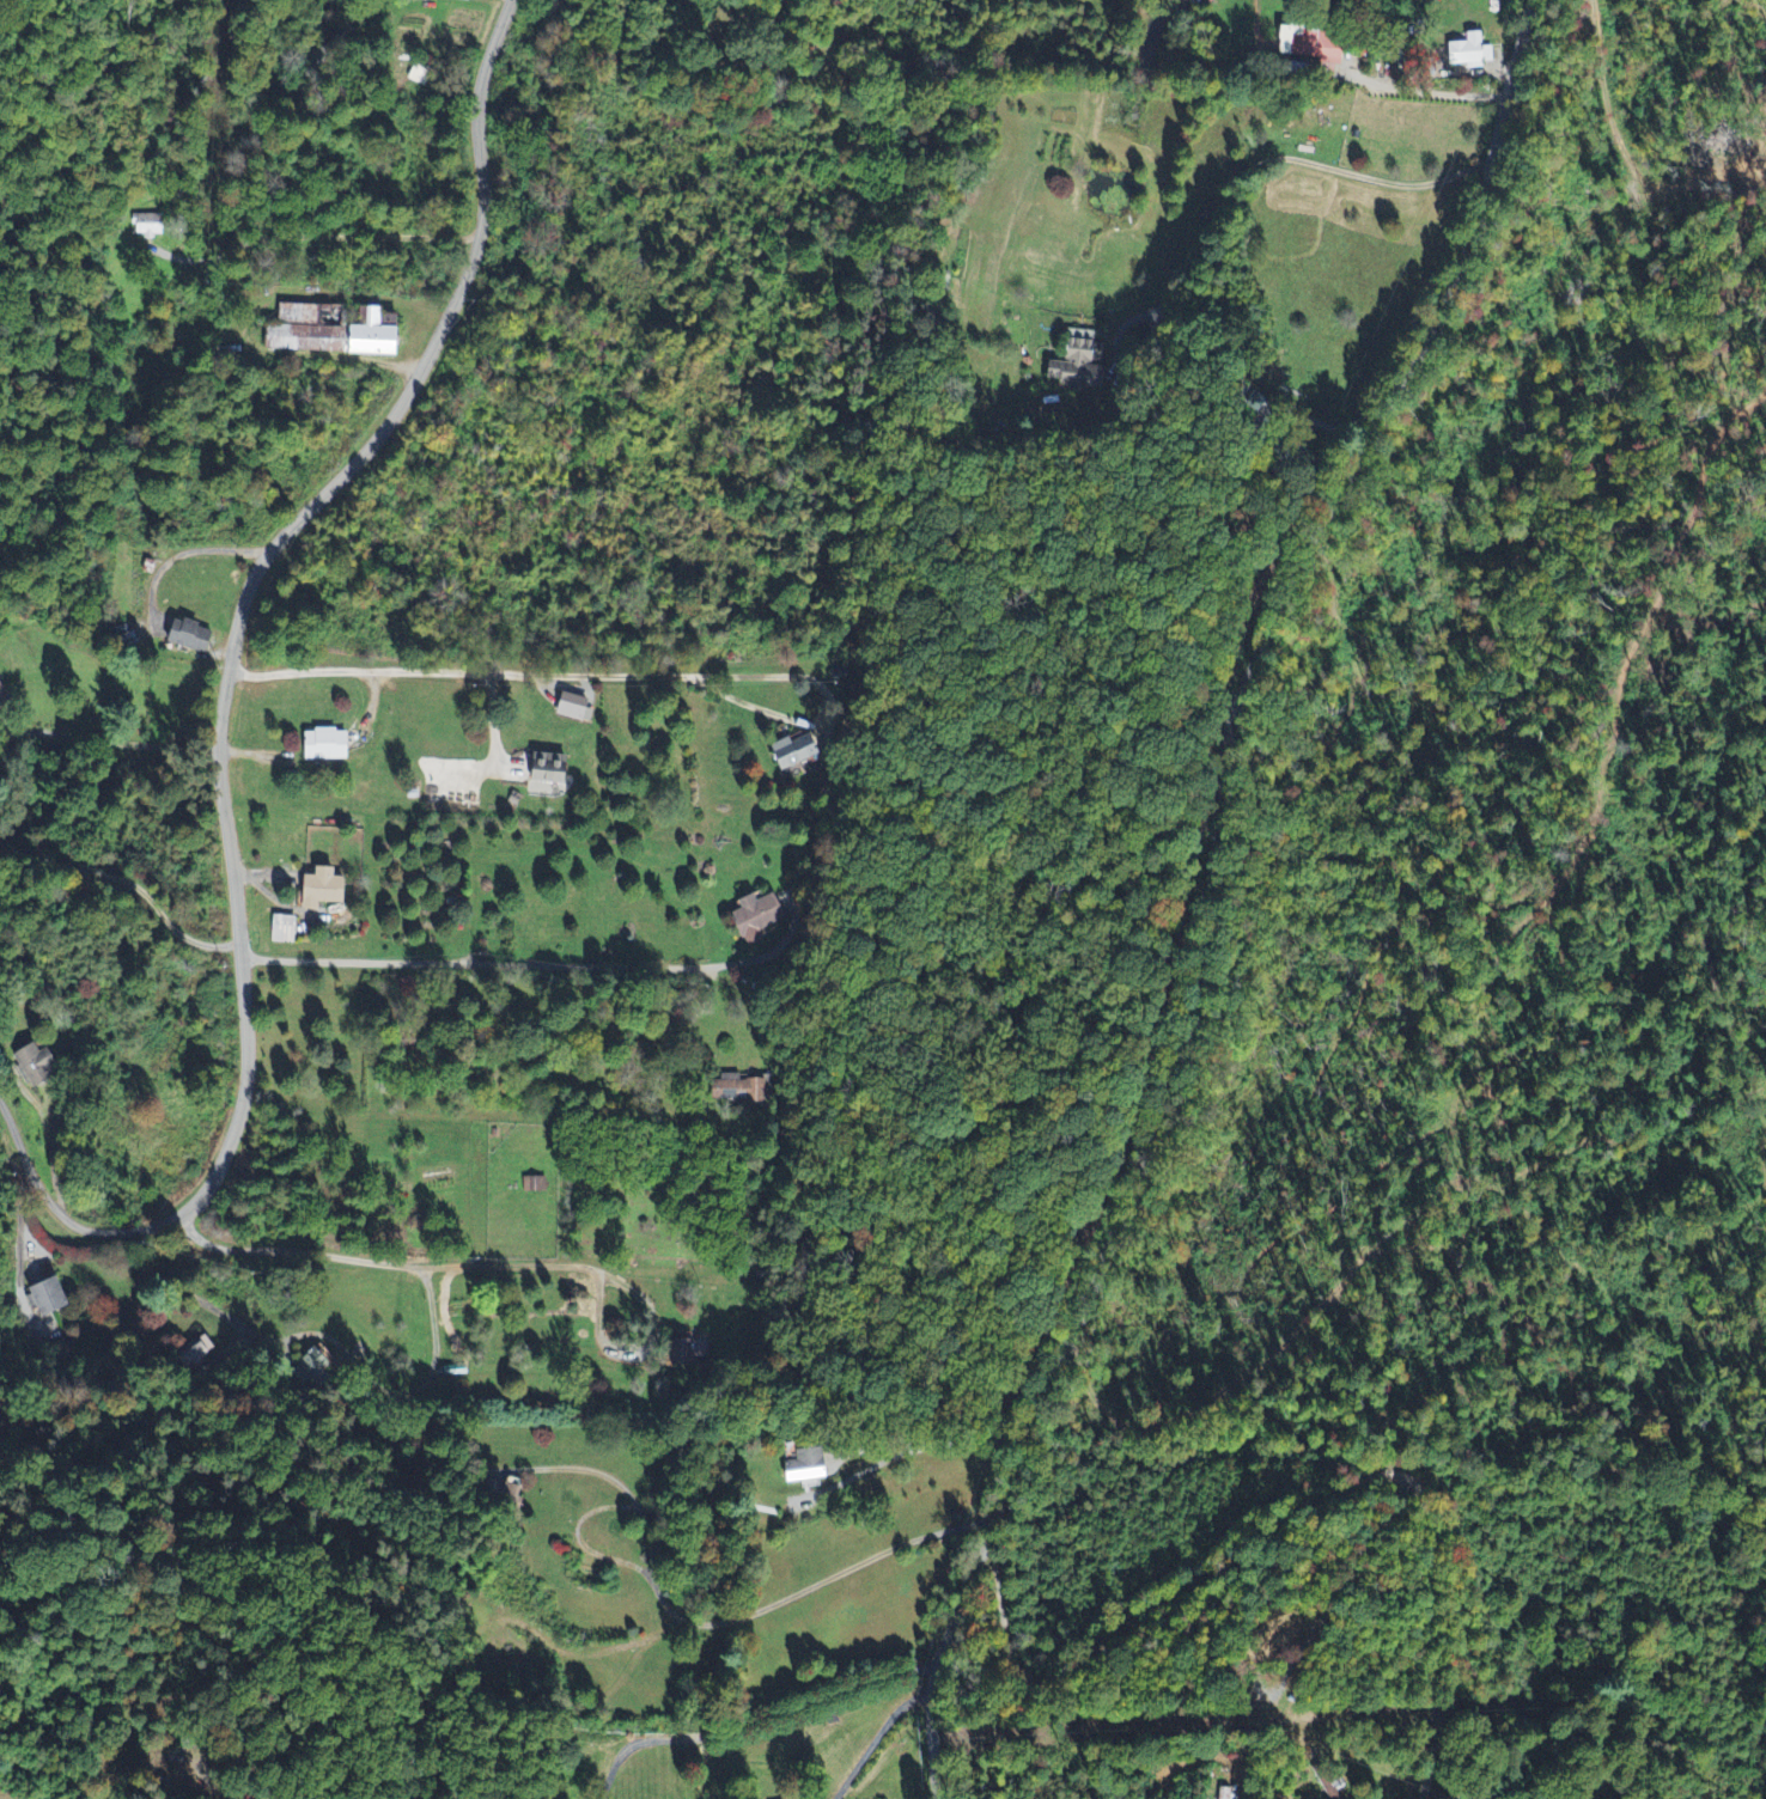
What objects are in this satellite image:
building: (1313, 48)
building: (1469, 53)
road: (1424, 89)
road: (1254, 165)
road: (220, 260)
building: (325, 333)
building: (1083, 364)
building: (187, 636)
road: (506, 677)
building: (2, 697)
road: (225, 700)
building: (570, 707)
road: (116, 740)
building: (324, 745)
building: (797, 752)
building: (546, 769)
road: (1212, 891)
road: (127, 895)
building: (757, 919)
building: (282, 929)
road: (480, 965)
building: (739, 1090)
building: (534, 1185)
road: (384, 1262)
building: (48, 1298)
building: (690, 1352)
road: (937, 1440)
building: (804, 1468)
road: (599, 1471)
road: (1341, 1585)
road: (791, 1596)
road: (1141, 1611)
road: (1430, 1632)
road: (757, 1718)
road: (877, 1739)
building: (1222, 1793)

